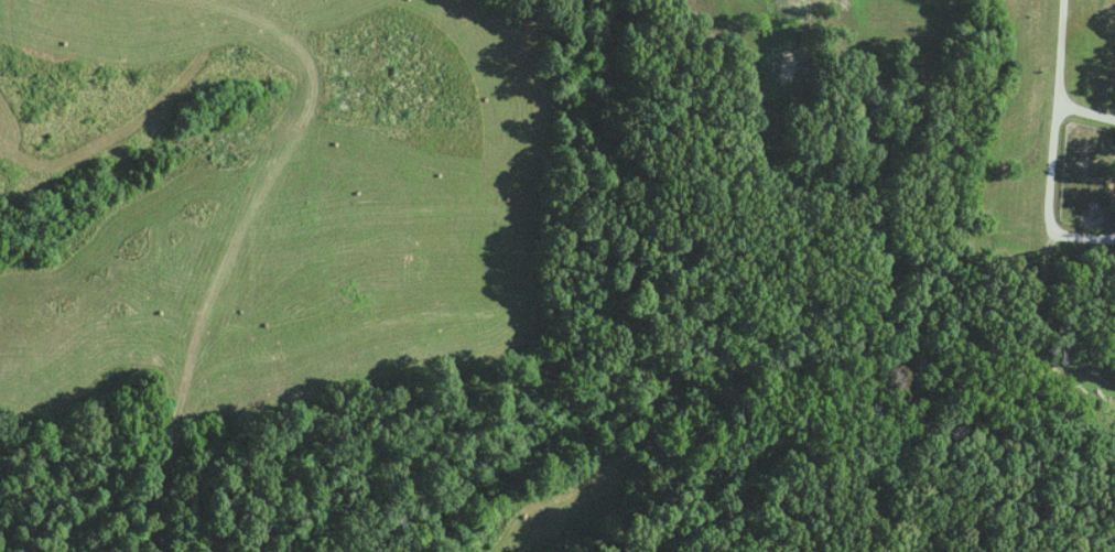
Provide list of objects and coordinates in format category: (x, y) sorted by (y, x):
road: (1057, 79)

